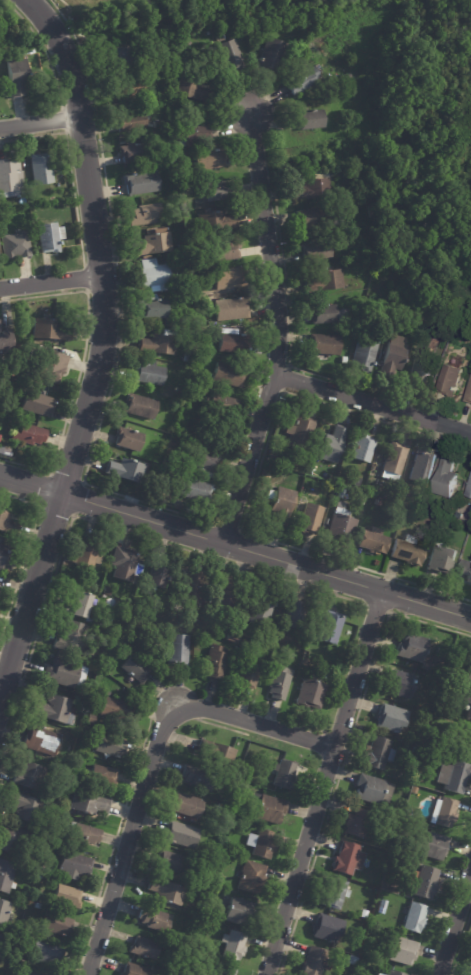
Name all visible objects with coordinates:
park: (277, 3)
building: (231, 57)
building: (271, 57)
building: (119, 59)
building: (2, 67)
building: (16, 76)
building: (345, 78)
building: (302, 81)
building: (127, 89)
building: (190, 90)
building: (5, 91)
building: (309, 120)
road: (41, 121)
building: (345, 122)
building: (130, 123)
building: (153, 125)
building: (191, 136)
building: (136, 140)
park: (420, 147)
building: (132, 154)
building: (208, 161)
building: (40, 168)
building: (10, 179)
building: (140, 184)
building: (312, 189)
building: (215, 192)
building: (344, 192)
building: (349, 201)
building: (142, 216)
building: (317, 219)
building: (216, 223)
building: (49, 236)
building: (15, 244)
building: (153, 246)
building: (181, 249)
building: (315, 251)
building: (226, 252)
building: (145, 258)
building: (155, 276)
building: (228, 279)
road: (52, 281)
building: (324, 282)
building: (185, 288)
building: (153, 308)
building: (230, 310)
building: (323, 315)
building: (419, 316)
building: (170, 324)
building: (51, 330)
road: (281, 332)
building: (232, 344)
building: (157, 345)
building: (324, 345)
building: (0, 348)
road: (103, 352)
building: (365, 352)
building: (186, 357)
building: (394, 357)
building: (343, 361)
building: (50, 366)
building: (185, 371)
building: (148, 375)
building: (420, 375)
building: (227, 376)
building: (449, 382)
building: (190, 393)
building: (468, 395)
road: (374, 403)
building: (37, 404)
building: (222, 405)
building: (139, 407)
building: (300, 434)
building: (28, 435)
building: (128, 439)
building: (332, 446)
building: (363, 450)
building: (312, 458)
building: (395, 460)
building: (203, 465)
building: (422, 469)
building: (126, 471)
building: (332, 480)
building: (445, 482)
building: (115, 487)
building: (349, 490)
building: (194, 492)
building: (469, 493)
building: (342, 495)
building: (364, 501)
building: (379, 504)
building: (280, 506)
building: (310, 520)
building: (325, 522)
building: (451, 523)
building: (6, 524)
building: (342, 526)
building: (373, 543)
road: (235, 545)
building: (407, 553)
building: (3, 554)
building: (86, 554)
building: (441, 560)
building: (125, 565)
building: (466, 572)
building: (159, 577)
building: (88, 579)
building: (192, 588)
building: (225, 597)
building: (138, 602)
building: (78, 605)
building: (260, 610)
building: (141, 615)
building: (294, 618)
building: (231, 627)
building: (329, 627)
building: (239, 630)
building: (70, 638)
building: (232, 638)
building: (411, 648)
building: (176, 650)
building: (390, 658)
building: (215, 662)
building: (425, 665)
building: (135, 669)
building: (64, 674)
building: (246, 676)
building: (469, 676)
building: (278, 683)
building: (399, 684)
building: (310, 694)
building: (467, 701)
building: (53, 710)
building: (116, 710)
building: (469, 715)
building: (90, 719)
building: (391, 719)
building: (41, 741)
building: (464, 743)
building: (110, 748)
building: (441, 749)
building: (416, 751)
road: (156, 754)
building: (212, 754)
building: (378, 754)
building: (284, 775)
building: (27, 776)
building: (102, 777)
building: (454, 777)
building: (197, 778)
building: (422, 779)
road: (326, 783)
building: (414, 788)
building: (373, 791)
building: (88, 804)
building: (185, 806)
building: (24, 808)
building: (268, 809)
building: (444, 812)
building: (176, 816)
building: (356, 823)
building: (81, 835)
building: (179, 835)
building: (13, 841)
building: (261, 845)
building: (433, 846)
building: (347, 860)
building: (403, 862)
building: (170, 863)
building: (74, 865)
building: (39, 876)
building: (6, 877)
building: (251, 878)
building: (423, 883)
building: (166, 893)
building: (334, 894)
building: (66, 898)
building: (382, 906)
building: (37, 907)
building: (3, 913)
building: (239, 913)
building: (363, 914)
building: (415, 919)
building: (153, 920)
road: (455, 923)
building: (56, 926)
building: (327, 929)
building: (233, 946)
building: (143, 948)
building: (402, 952)
building: (46, 955)
building: (352, 961)
building: (313, 962)
building: (470, 965)
building: (135, 970)
building: (225, 971)
building: (27, 973)
building: (393, 973)
building: (378, 974)

